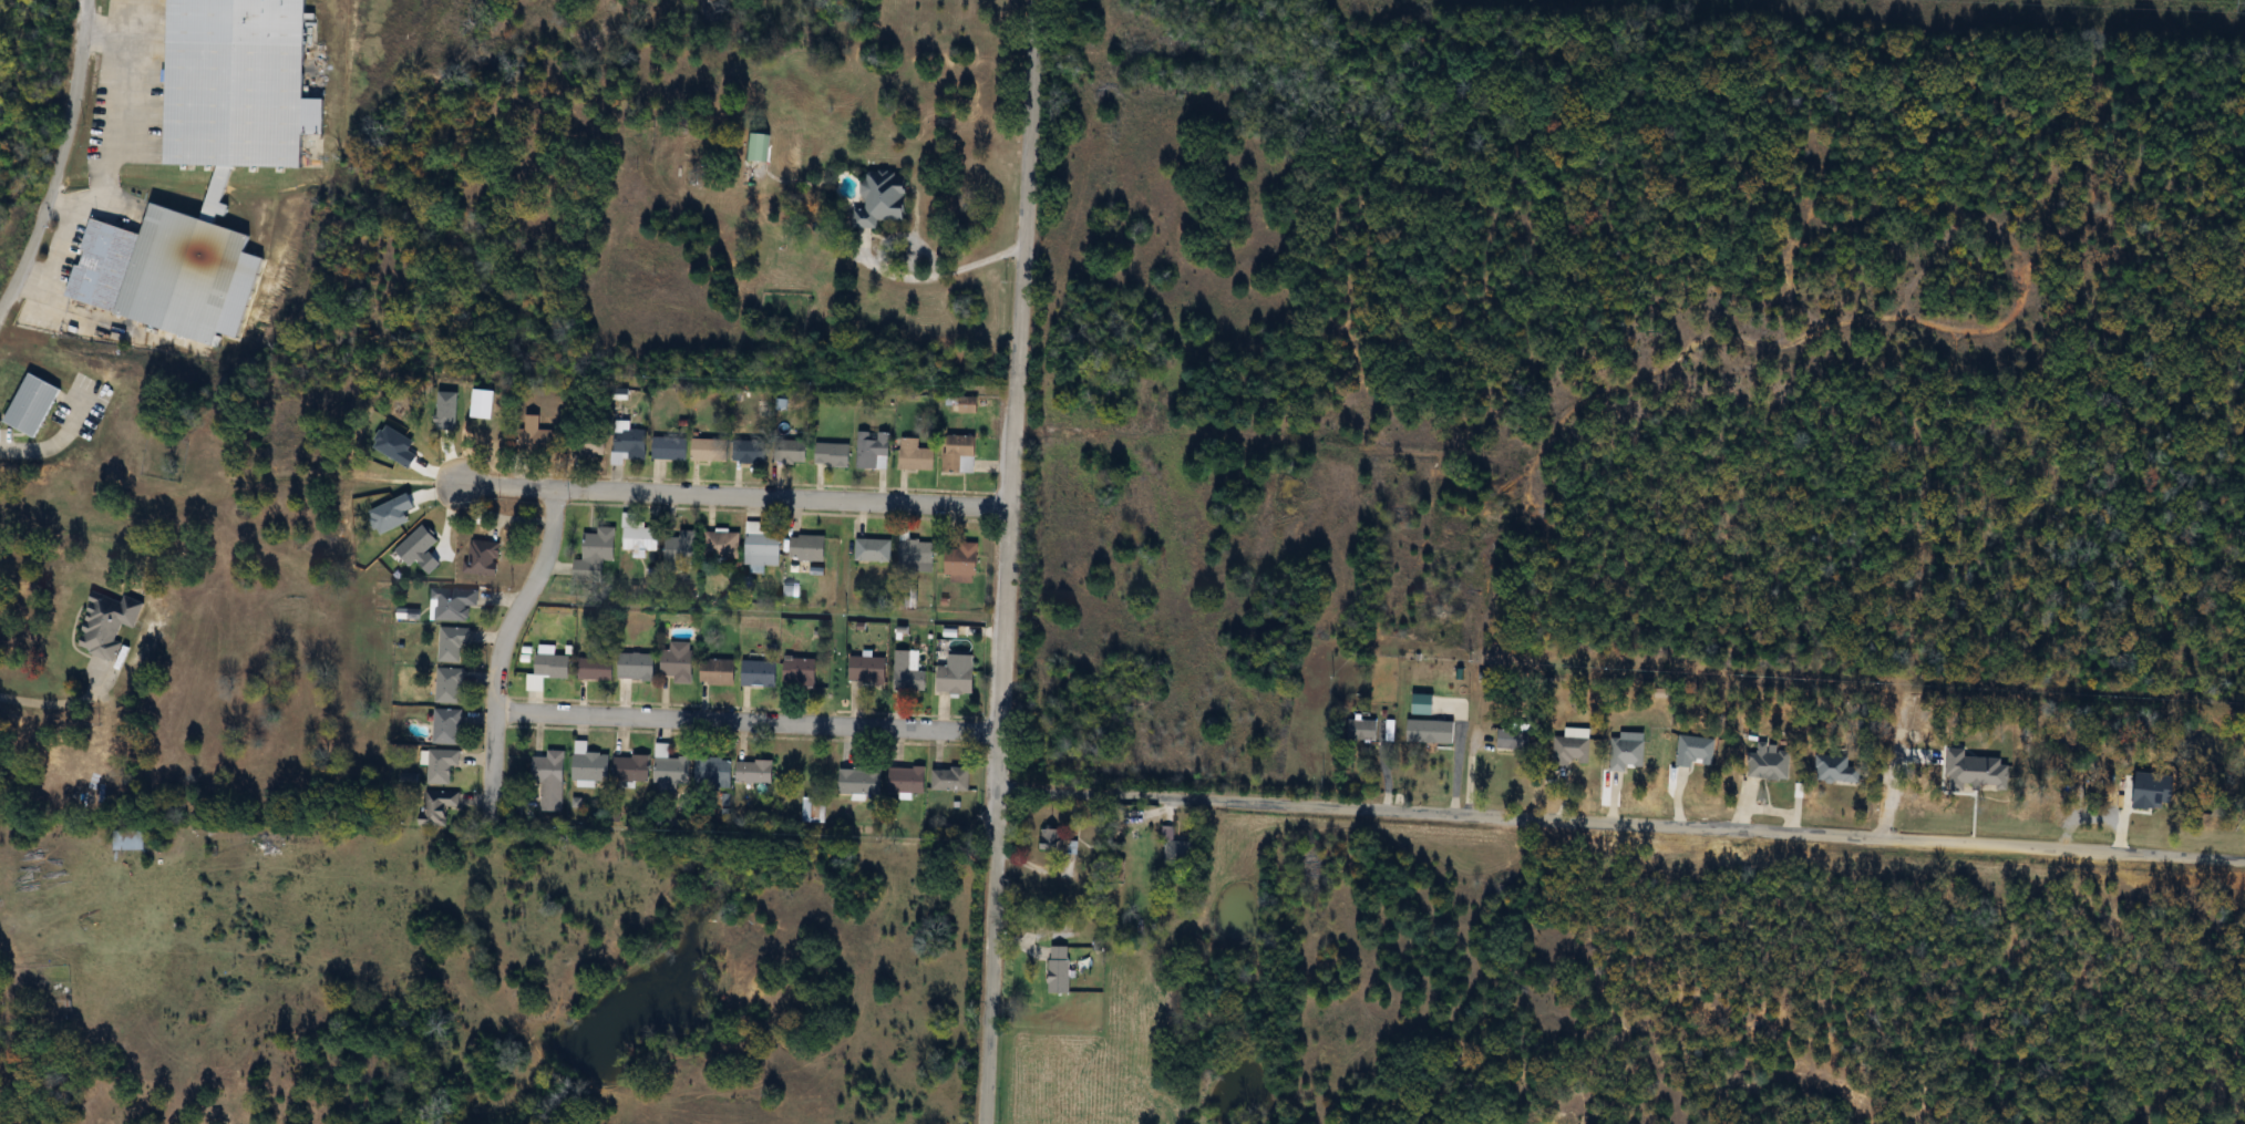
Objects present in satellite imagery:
power tower: (2238, 4)
building: (239, 83)
building: (763, 147)
road: (59, 155)
building: (884, 199)
road: (906, 233)
building: (166, 269)
building: (969, 404)
building: (34, 405)
building: (537, 439)
road: (60, 441)
building: (630, 445)
building: (671, 447)
building: (711, 448)
building: (874, 450)
building: (752, 452)
building: (792, 453)
building: (961, 454)
building: (834, 455)
building: (916, 455)
road: (732, 495)
building: (642, 539)
building: (724, 542)
building: (683, 547)
building: (810, 548)
building: (771, 549)
building: (873, 550)
building: (597, 551)
building: (916, 556)
building: (484, 557)
road: (1003, 561)
building: (962, 564)
building: (456, 604)
building: (109, 625)
building: (454, 643)
road: (503, 643)
building: (680, 662)
building: (638, 666)
building: (597, 668)
building: (549, 670)
building: (802, 670)
building: (868, 670)
building: (720, 672)
building: (760, 673)
building: (907, 674)
building: (956, 680)
building: (452, 685)
road: (49, 703)
road: (745, 723)
building: (449, 726)
building: (1363, 731)
building: (1432, 732)
building: (1514, 741)
building: (1574, 749)
building: (1698, 752)
building: (1628, 754)
building: (591, 765)
building: (1769, 765)
building: (443, 766)
building: (634, 769)
building: (1836, 770)
building: (755, 772)
building: (693, 773)
building: (552, 780)
building: (907, 780)
building: (951, 780)
building: (859, 781)
building: (440, 807)
building: (814, 811)
road: (1617, 825)
building: (1053, 839)
building: (131, 841)
building: (1181, 853)
building: (1060, 969)

